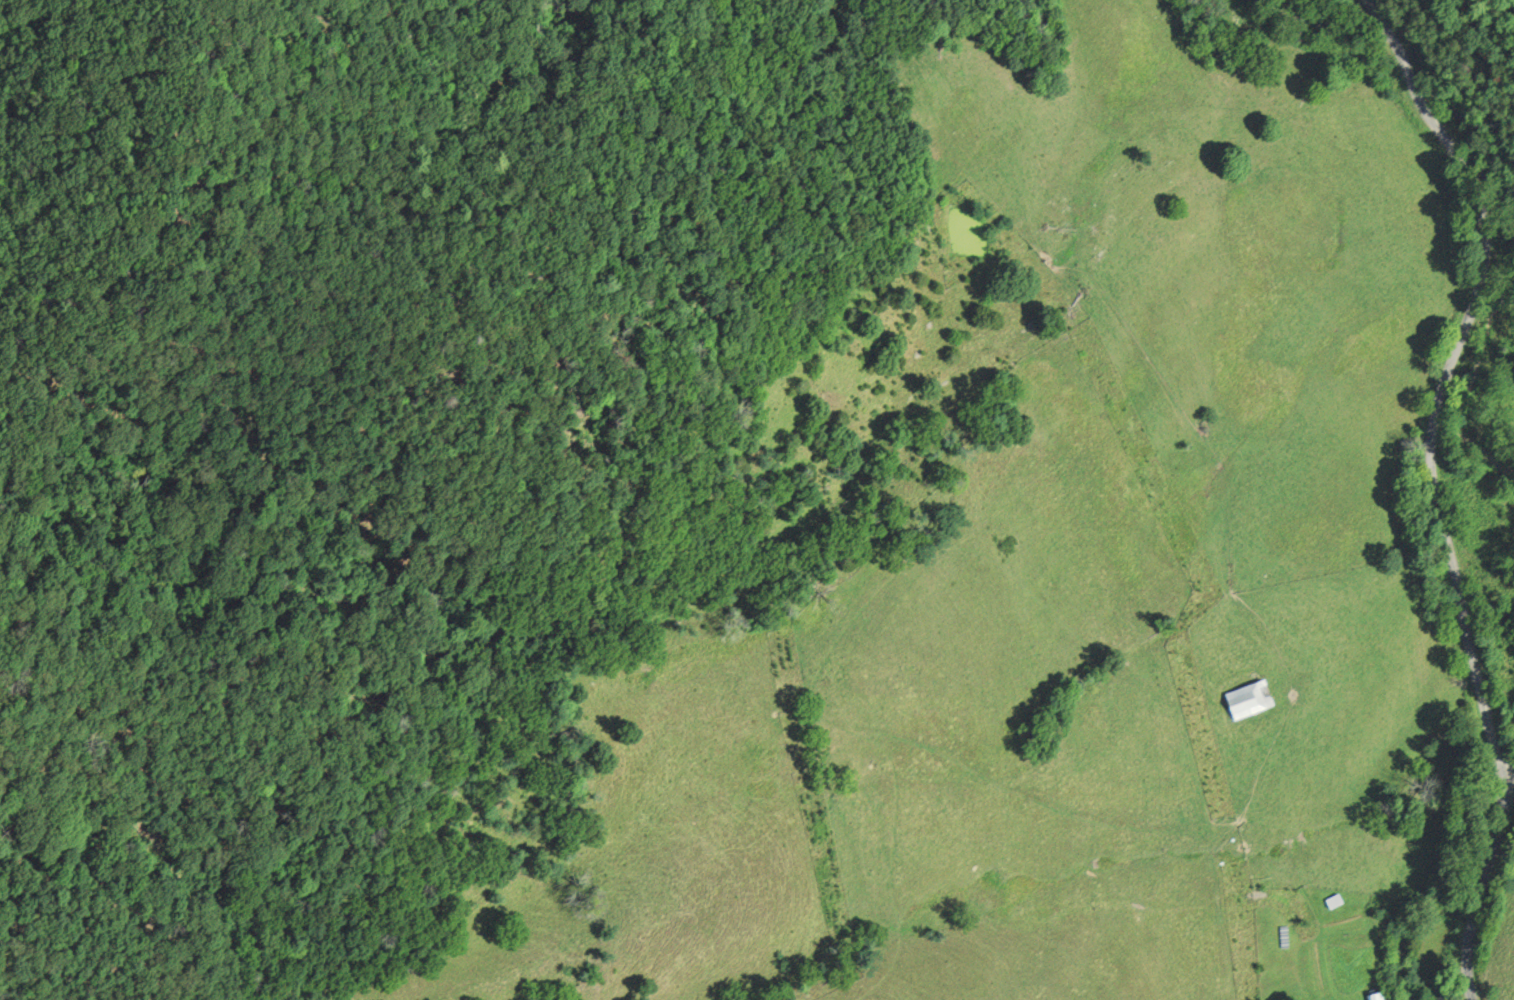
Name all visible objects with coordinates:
road: (1439, 486)
building: (1252, 699)
road: (1507, 766)
building: (1338, 900)
road: (1449, 980)
building: (1379, 996)

